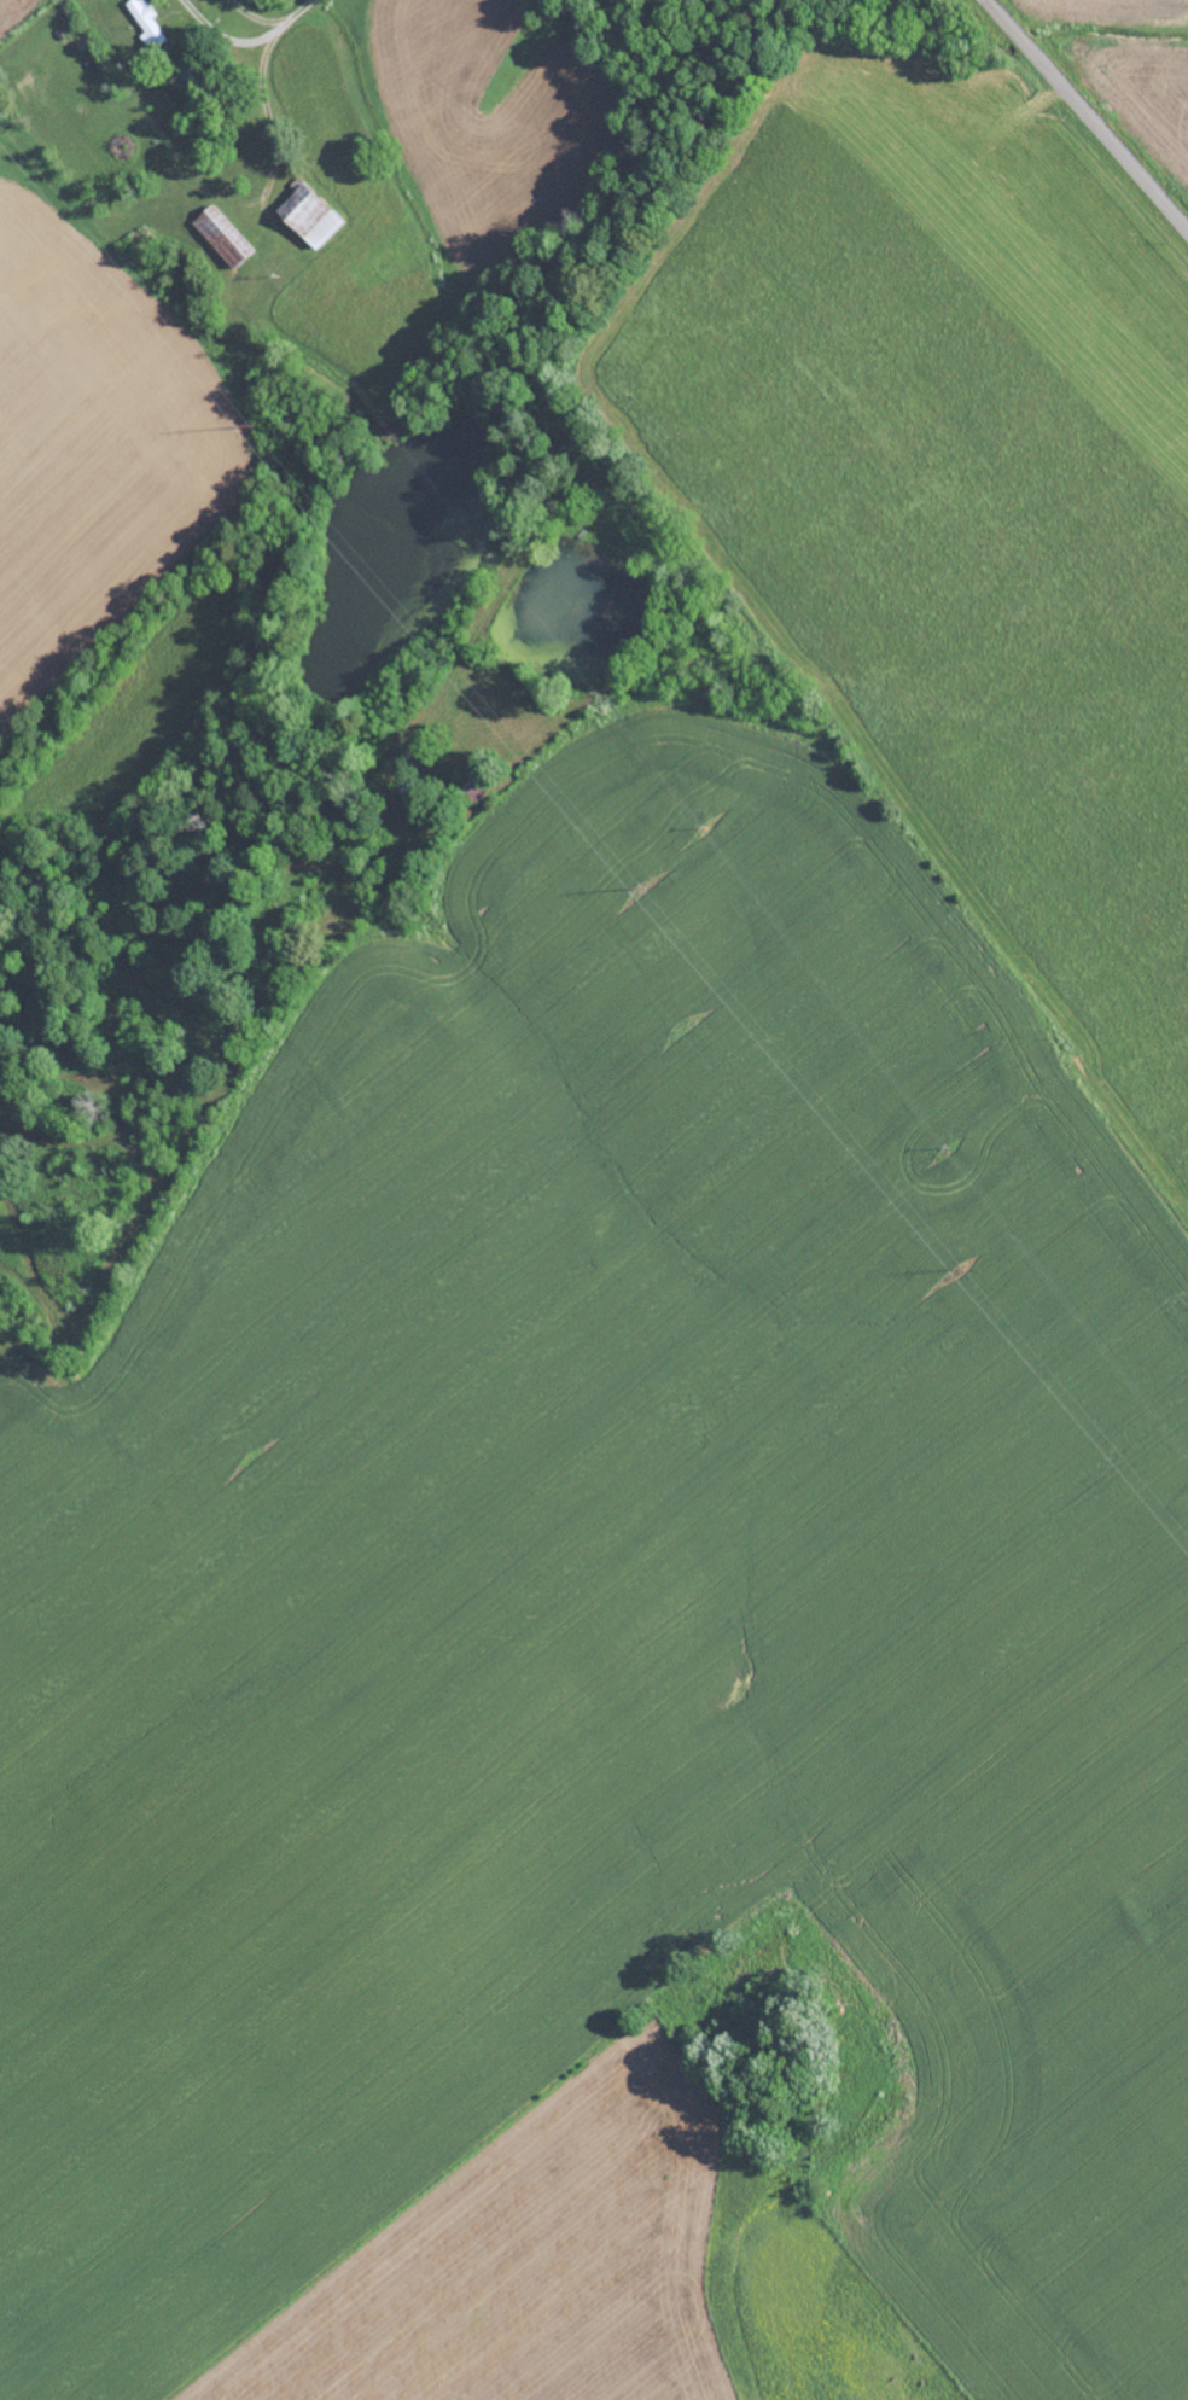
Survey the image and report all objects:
building: (148, 21)
road: (1085, 117)
building: (311, 215)
building: (223, 235)

